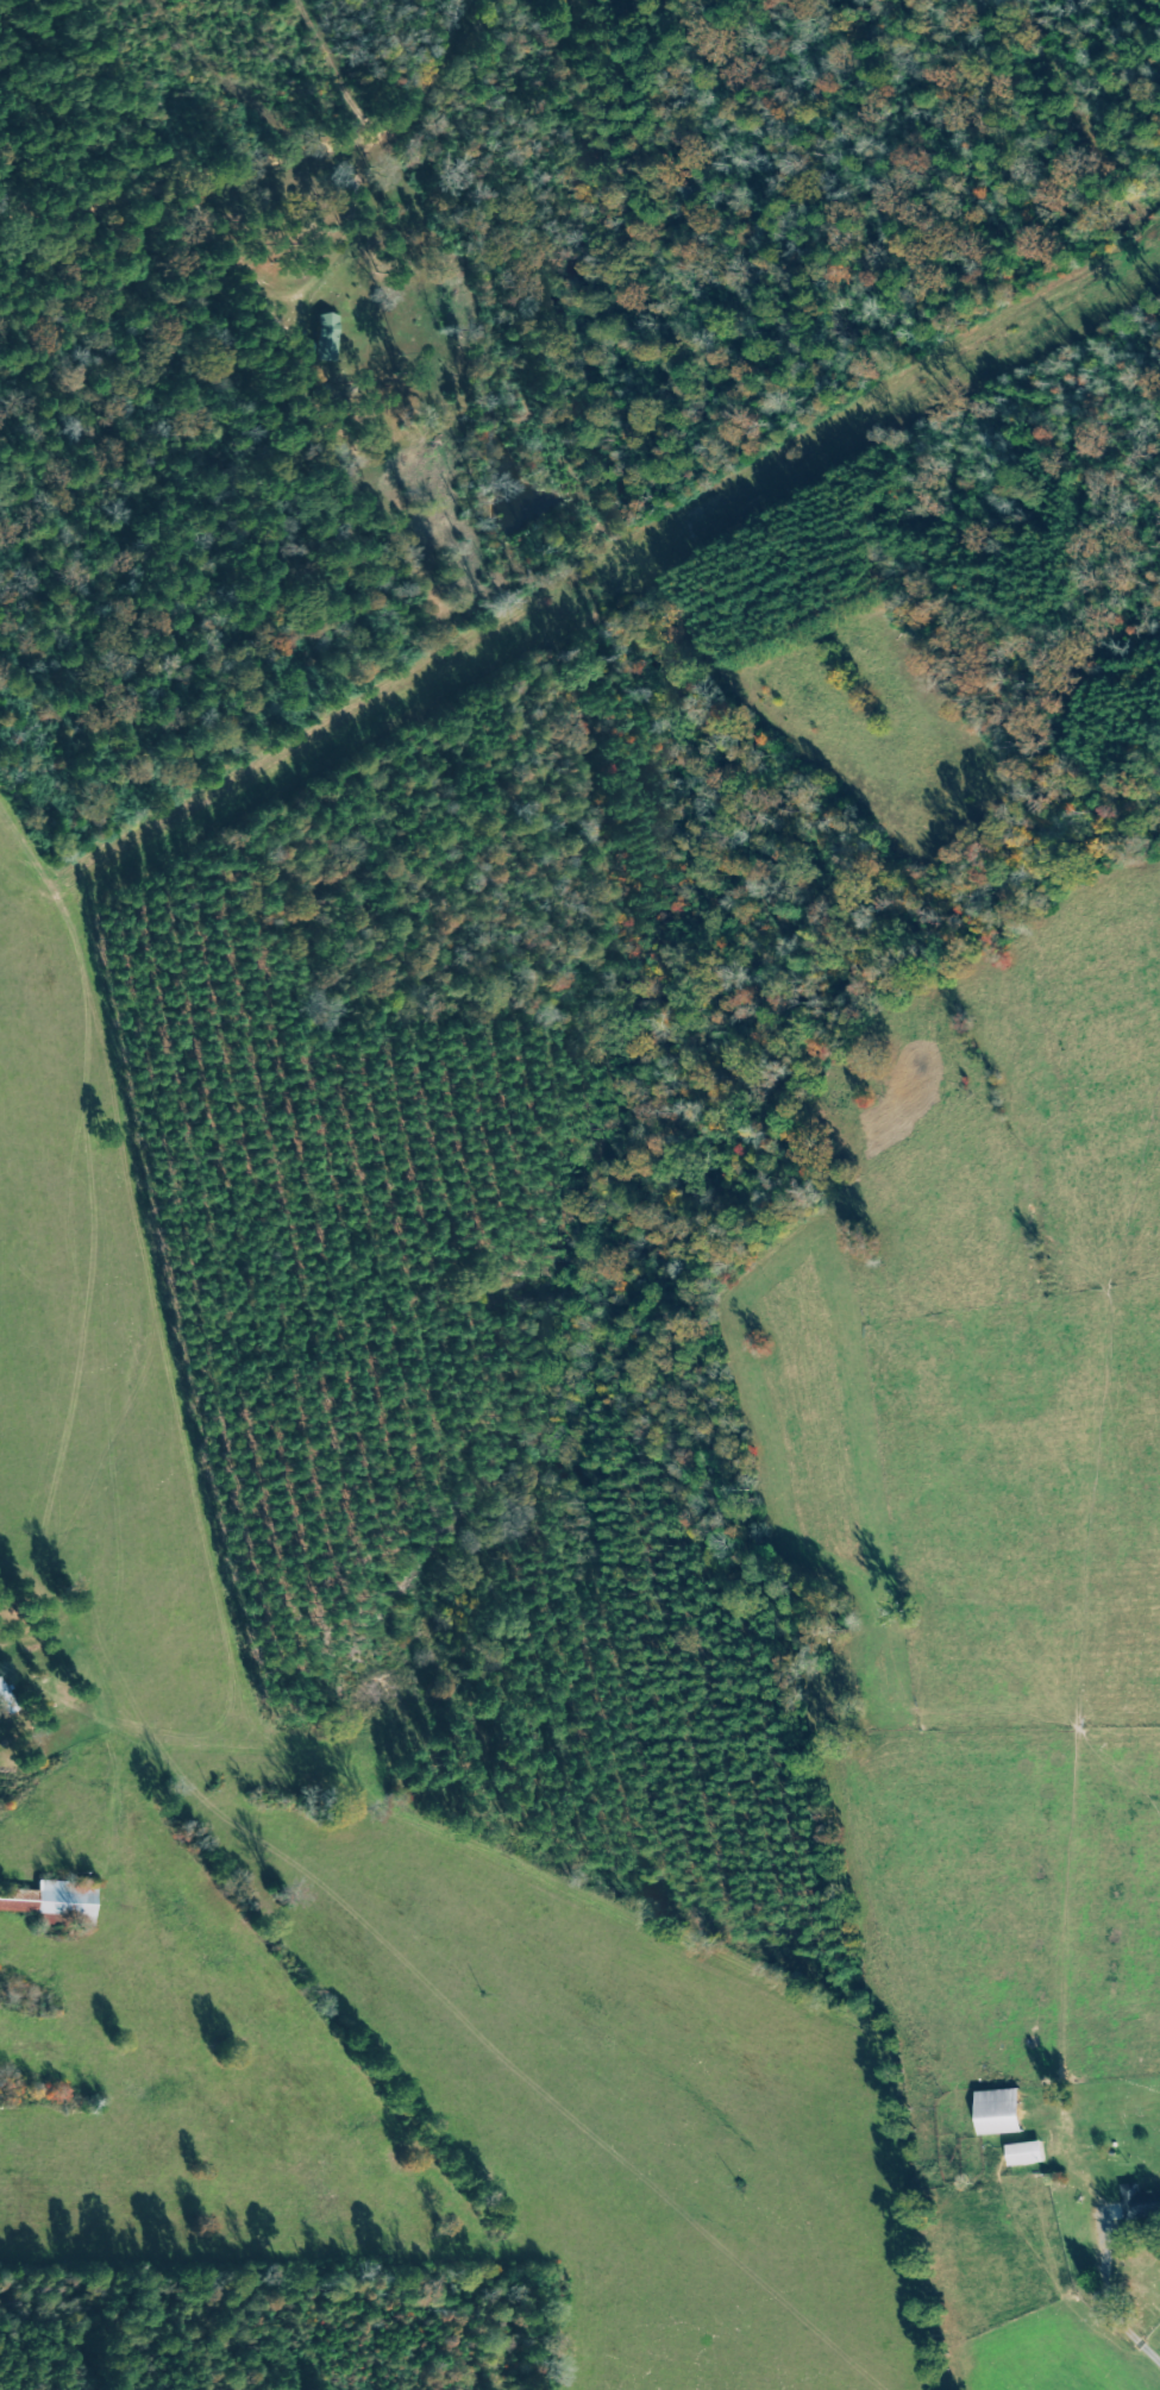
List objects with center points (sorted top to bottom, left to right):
road: (257, 175)
building: (332, 326)
building: (7, 1698)
building: (56, 1900)
building: (1005, 2112)
building: (1032, 2153)
building: (1143, 2202)
road: (1122, 2323)

